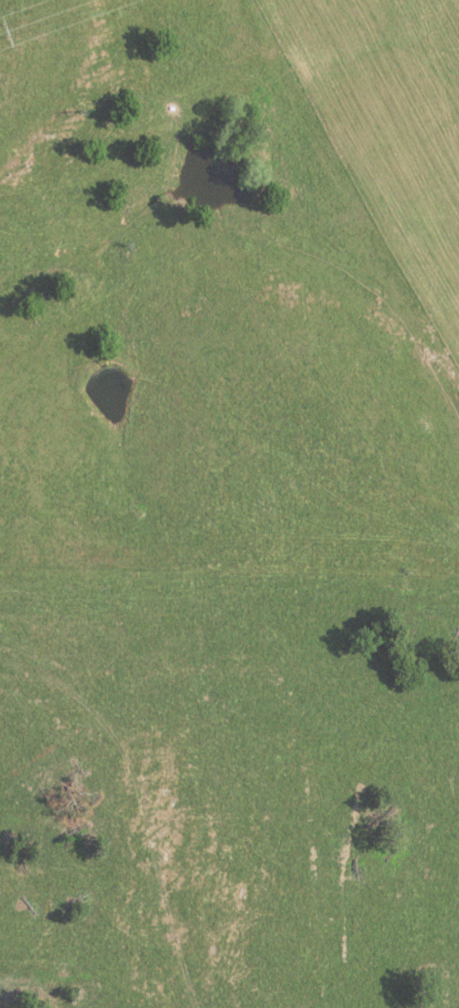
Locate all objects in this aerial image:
power tower: (0, 32)

